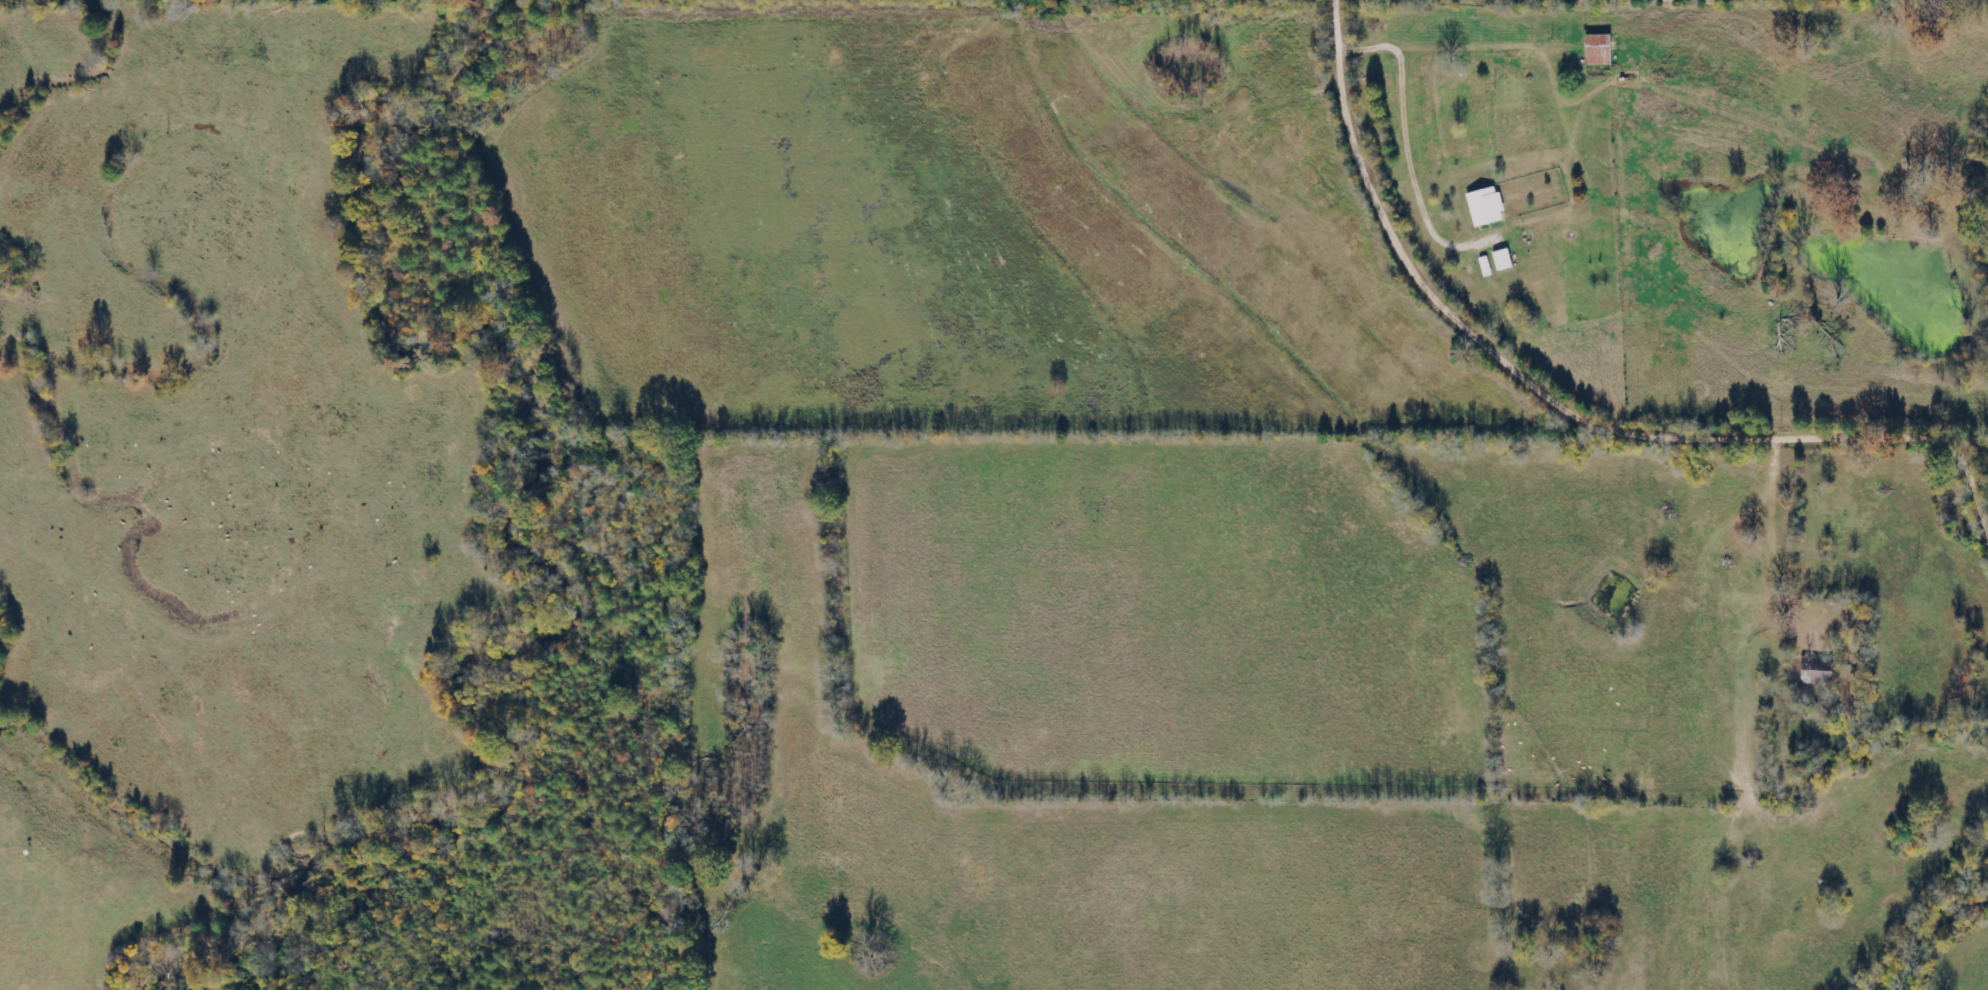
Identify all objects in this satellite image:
building: (1490, 207)
building: (1507, 260)
road: (1561, 405)

